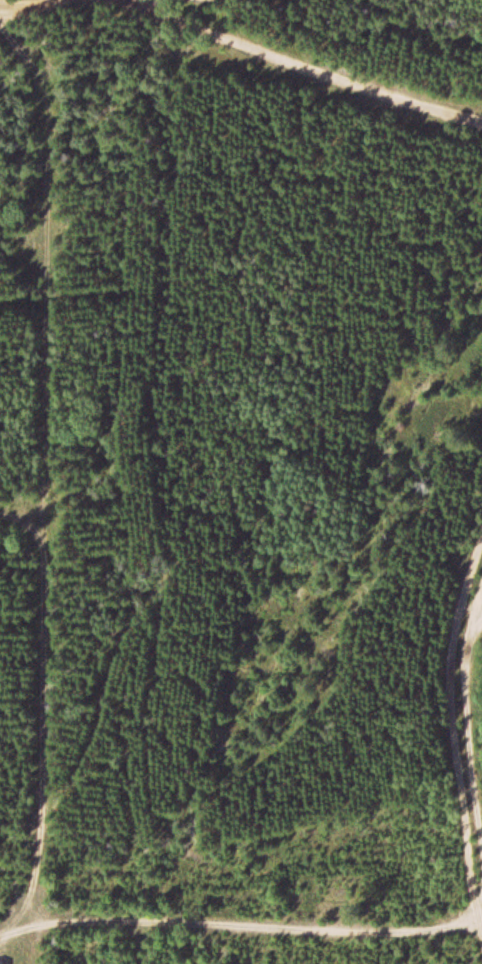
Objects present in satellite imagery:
road: (3, 0)
road: (360, 22)
road: (310, 65)
road: (43, 472)
road: (21, 516)
road: (480, 600)
road: (448, 715)
road: (470, 730)
road: (239, 924)

